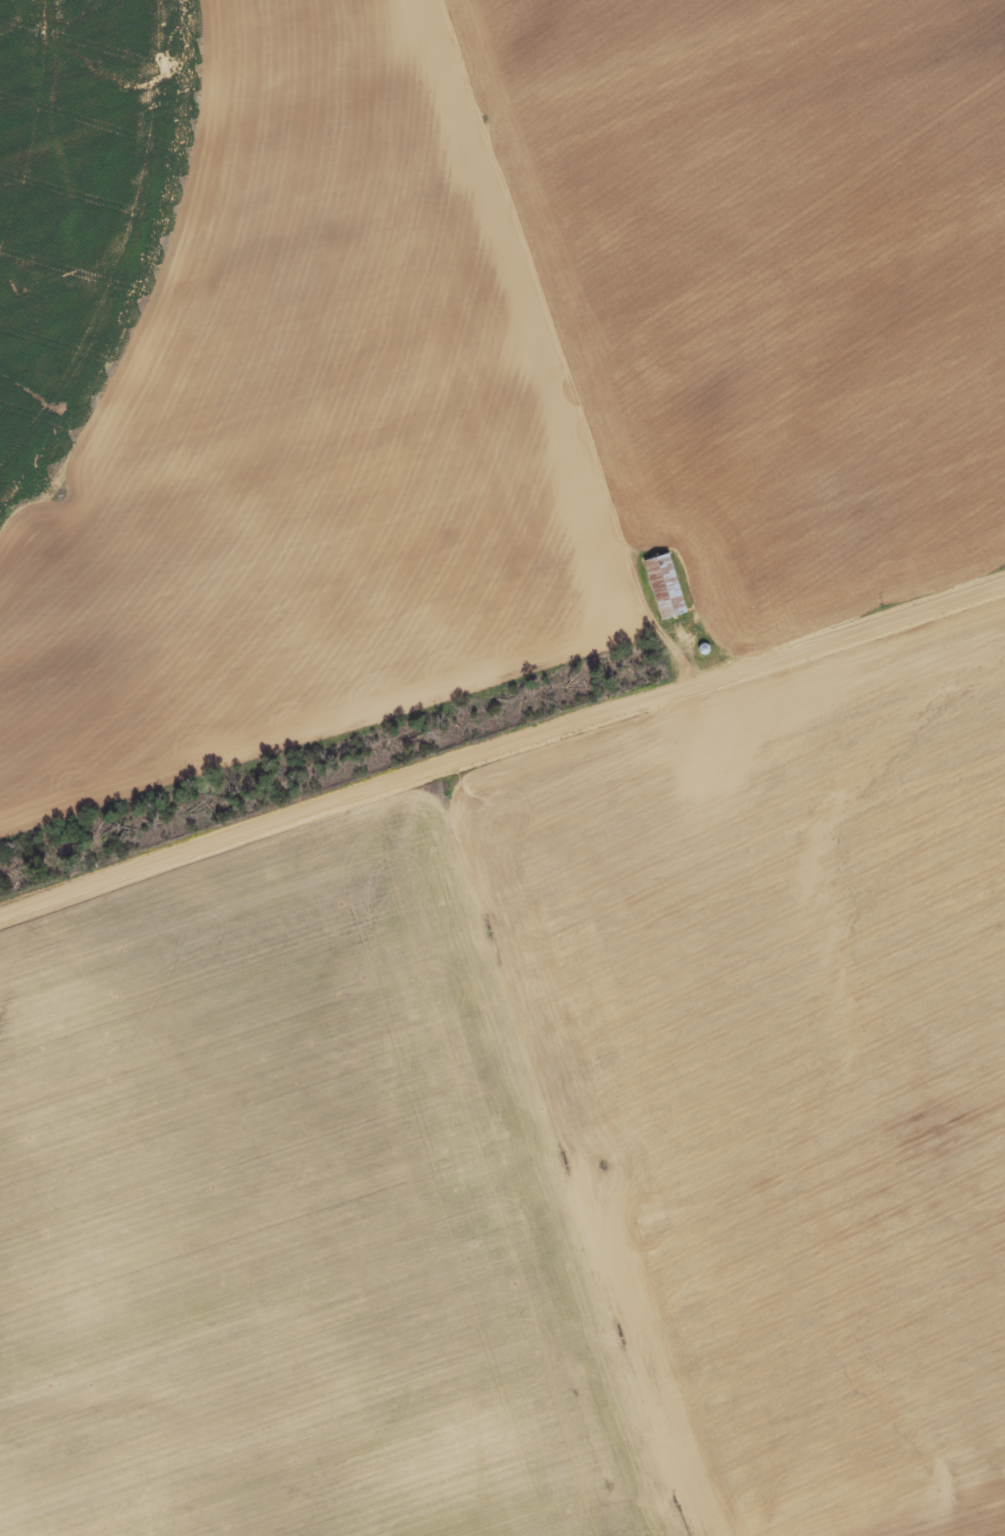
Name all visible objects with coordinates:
road: (544, 345)
building: (661, 587)
road: (502, 742)

